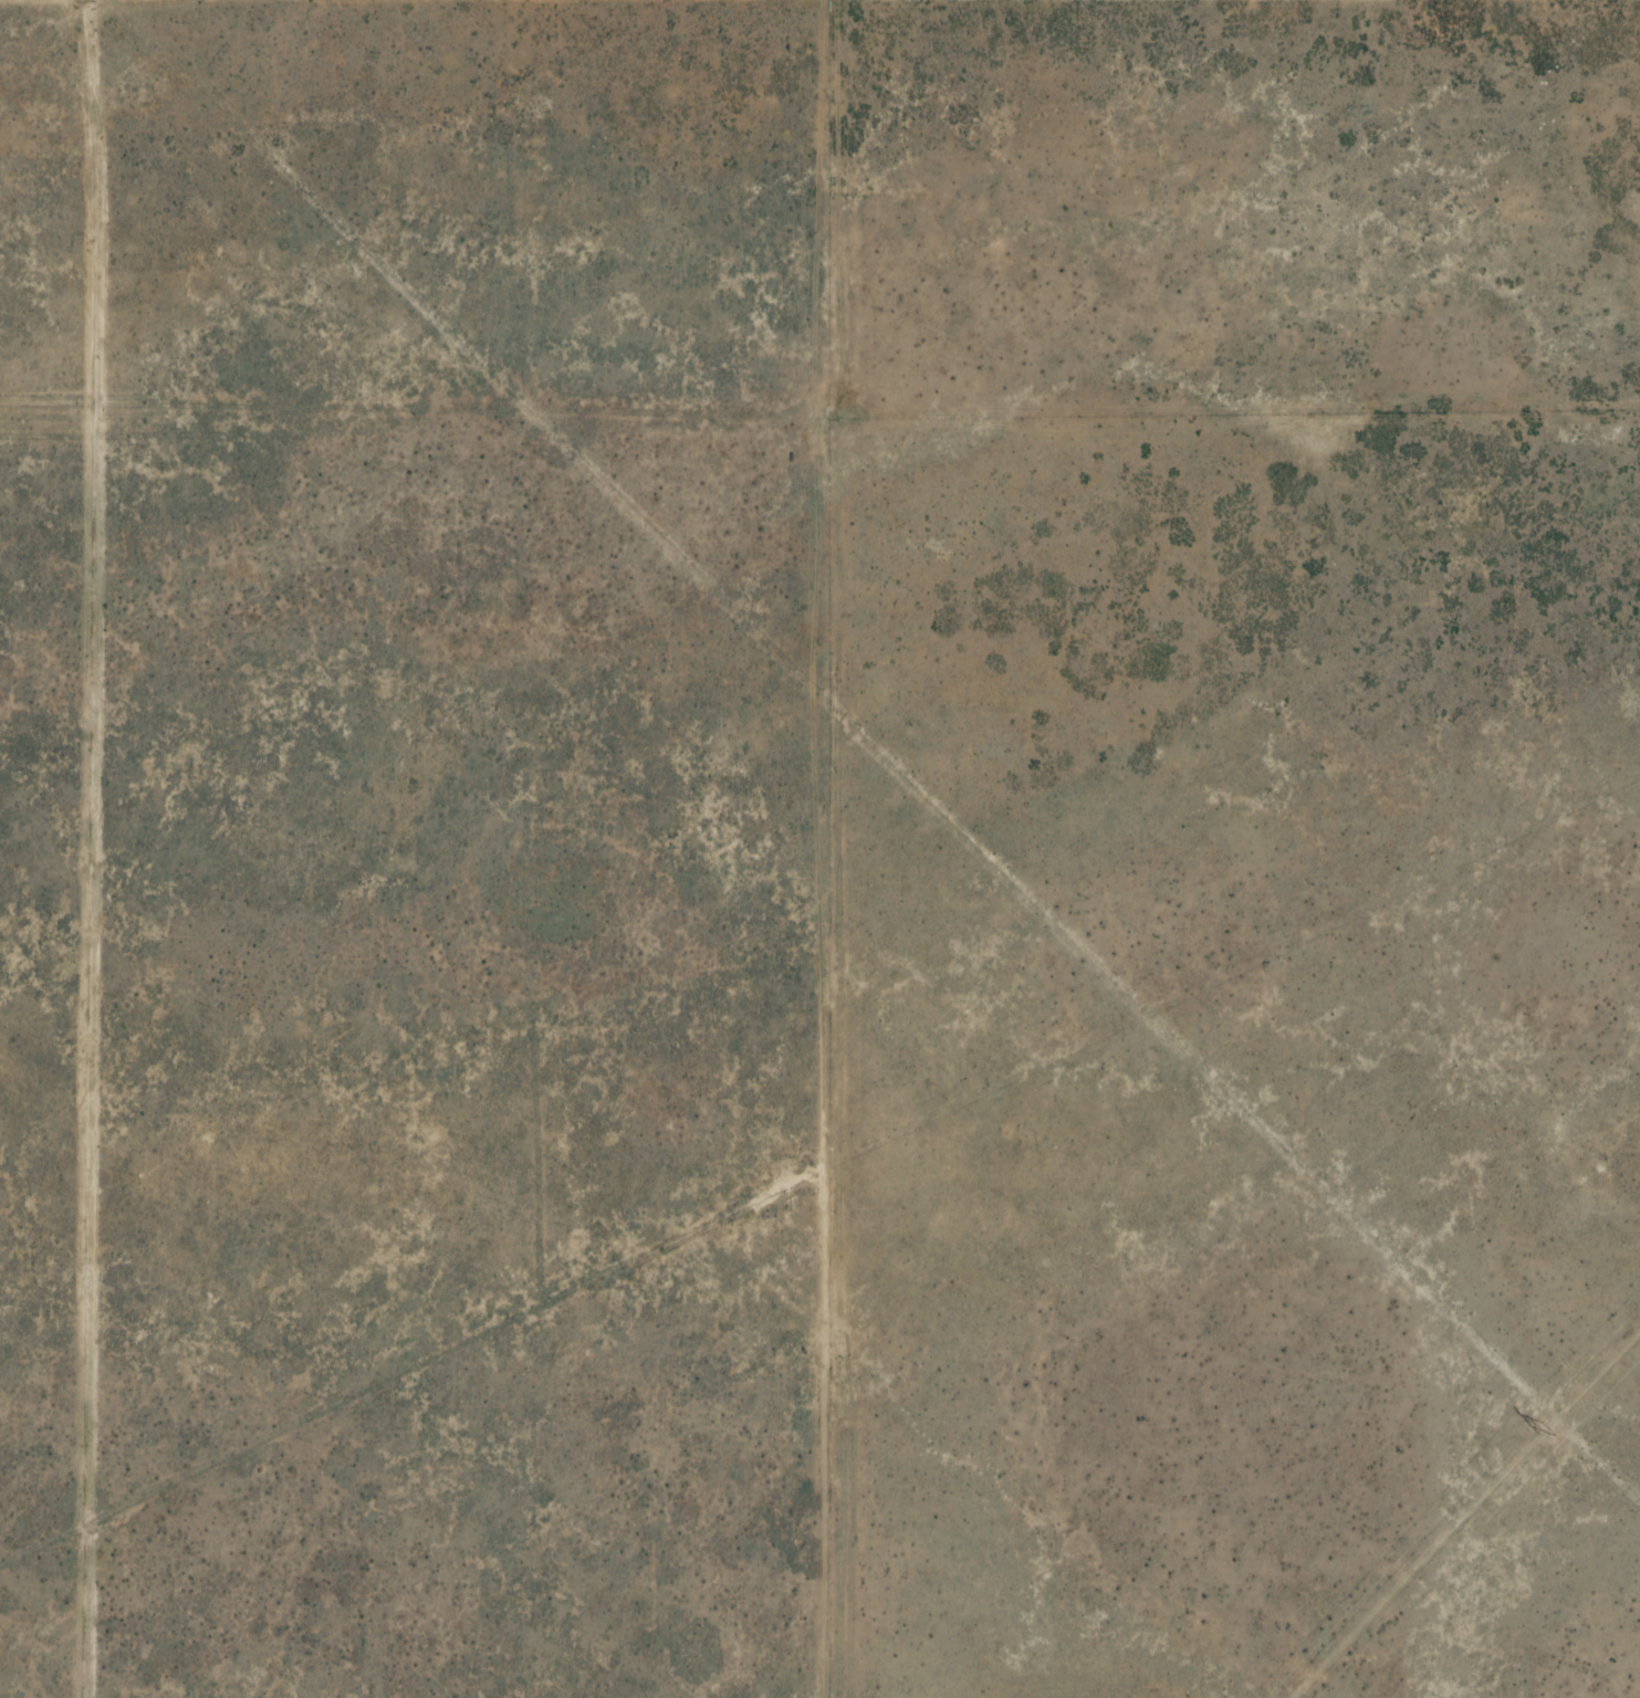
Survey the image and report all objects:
power tower: (1547, 1429)

